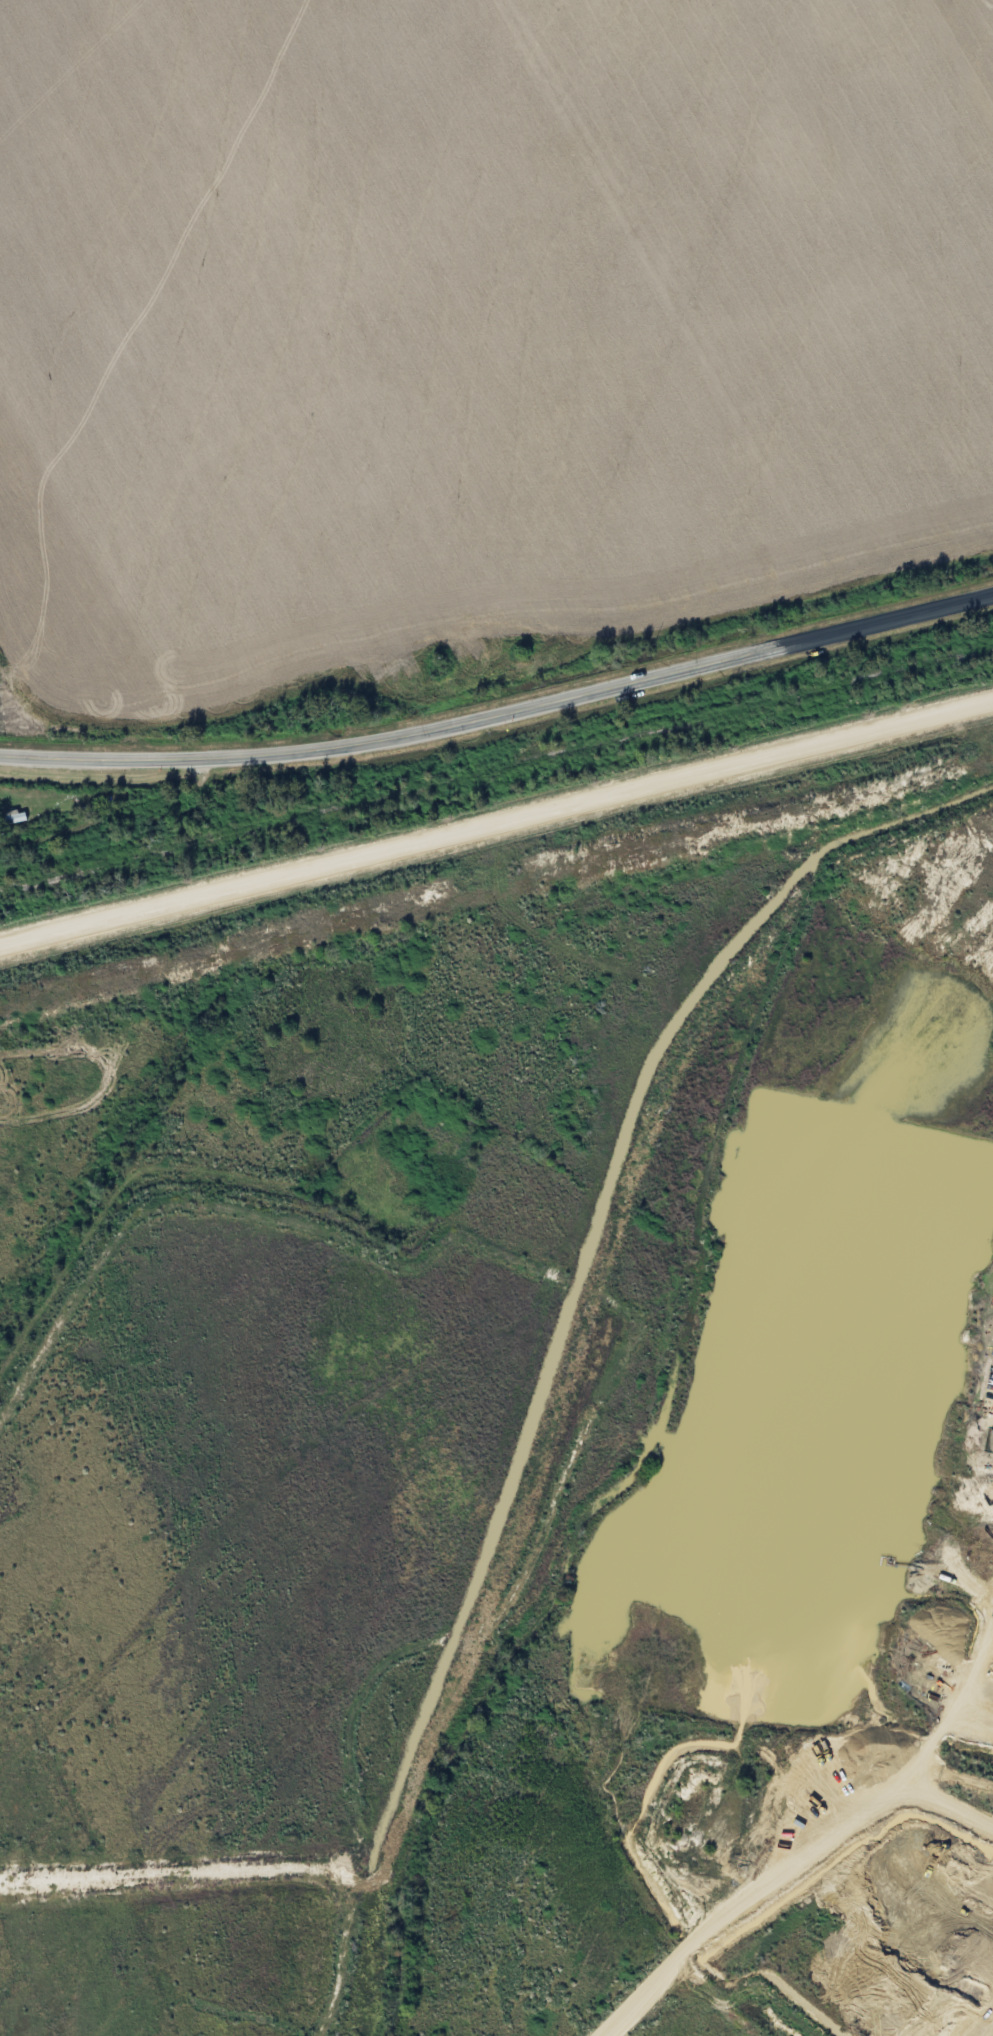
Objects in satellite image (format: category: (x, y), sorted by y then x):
road: (501, 711)
railway: (496, 769)
building: (19, 817)
road: (496, 823)
road: (118, 1193)
road: (819, 1828)

